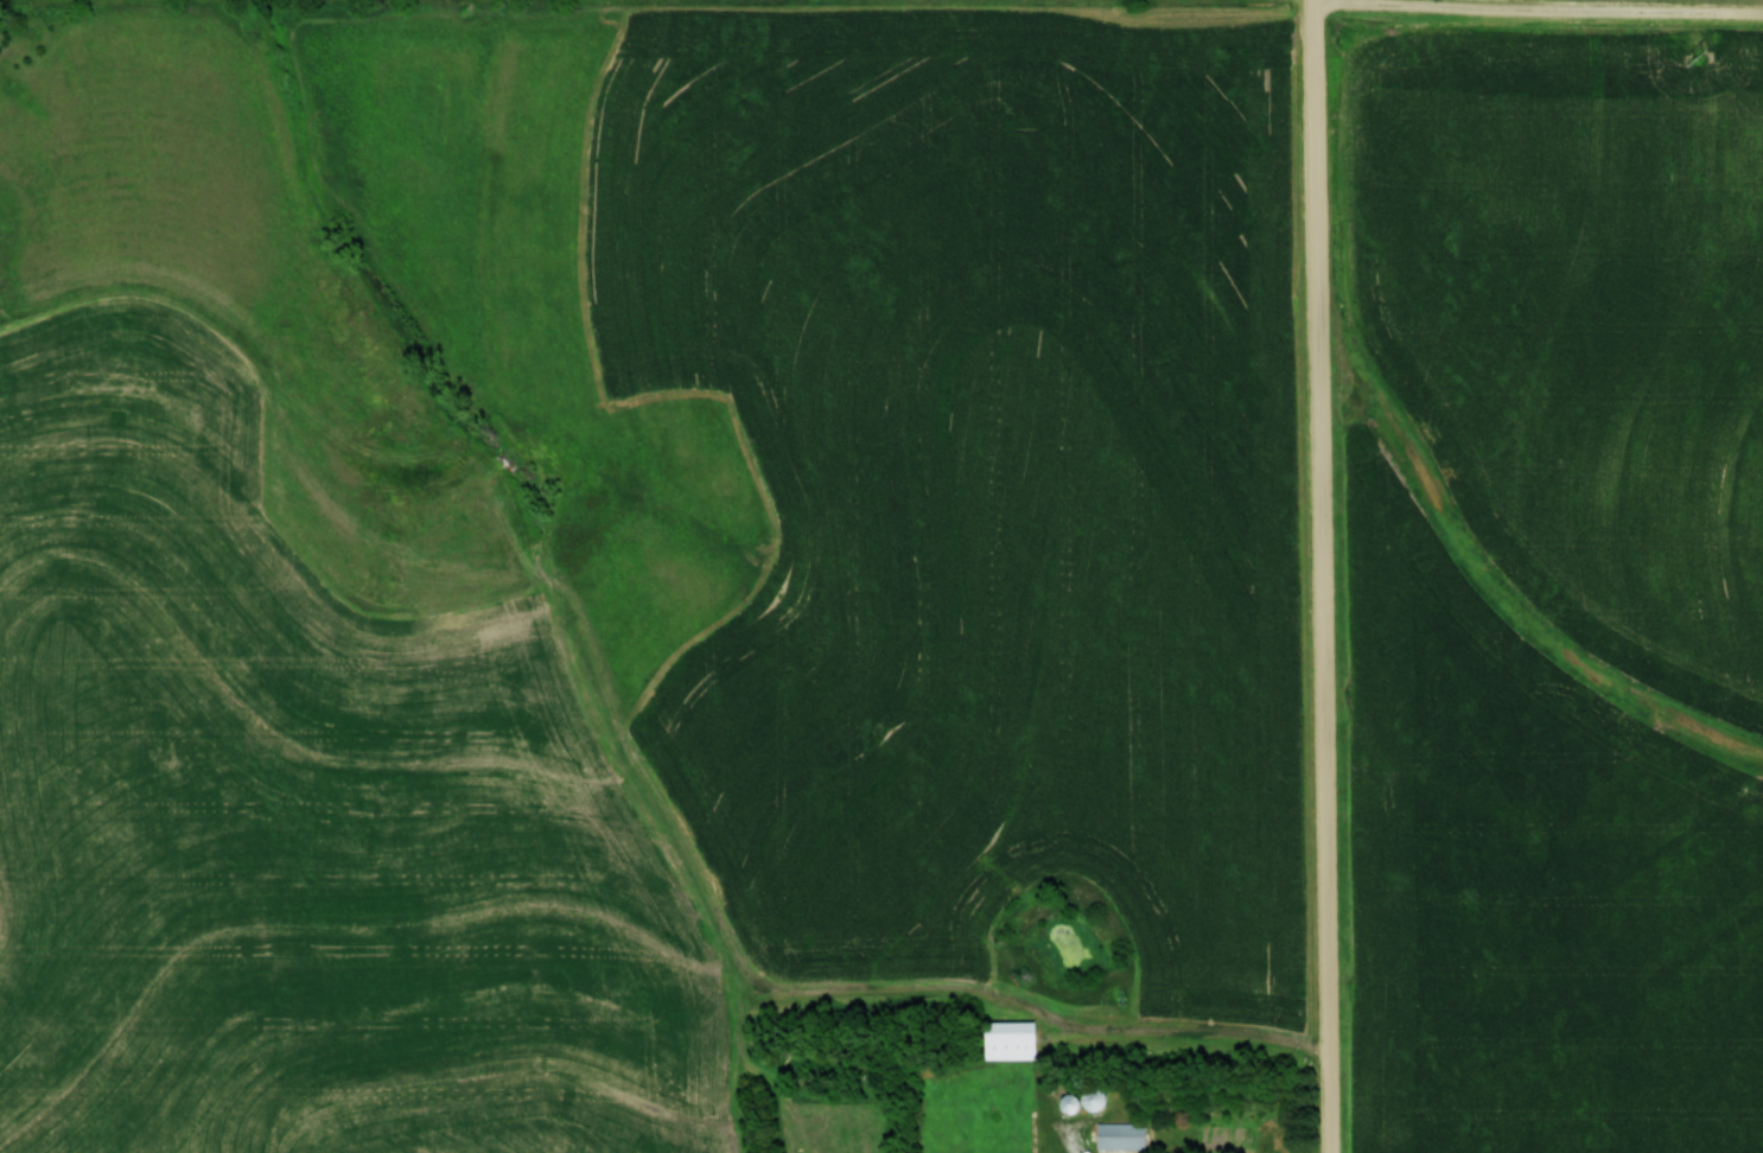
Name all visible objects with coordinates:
road: (1540, 12)
power tower: (1698, 57)
road: (1325, 575)
building: (1005, 1039)
building: (1077, 1100)
building: (1118, 1134)

